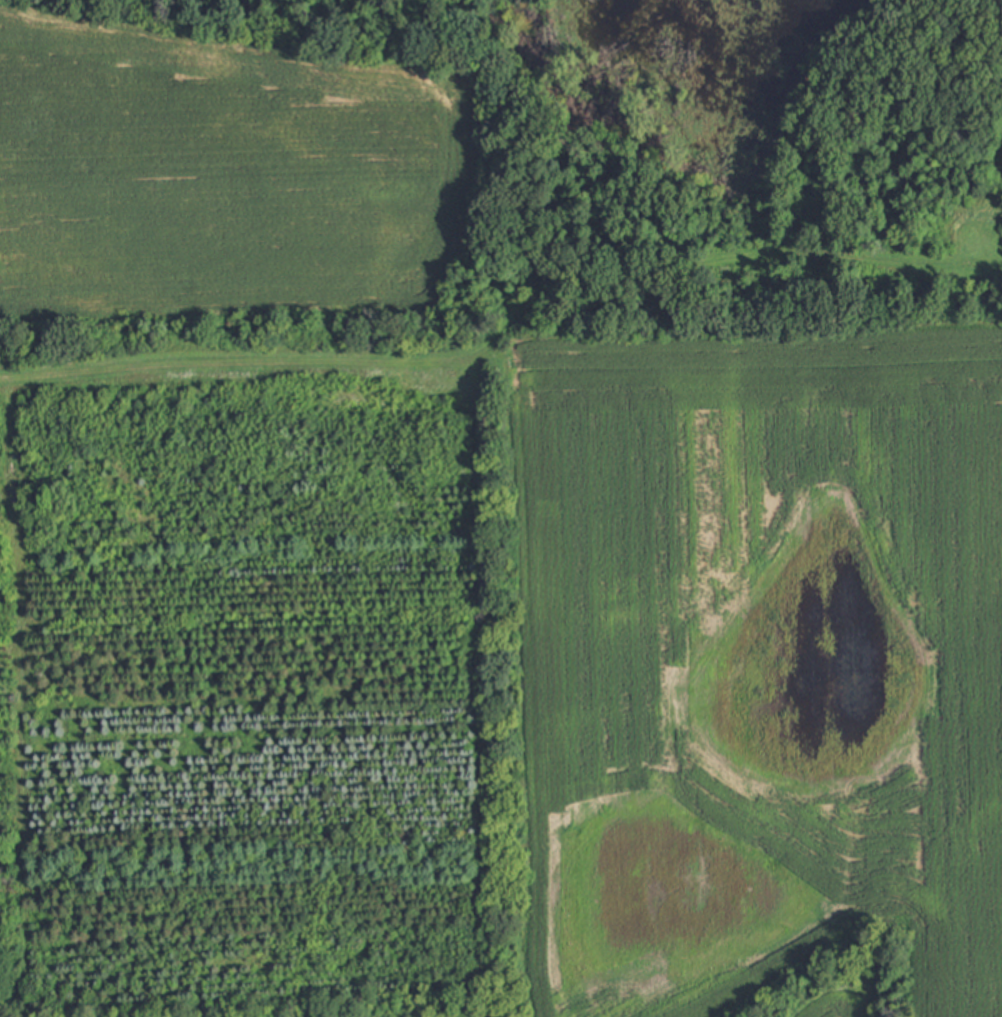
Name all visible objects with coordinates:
road: (879, 1016)

